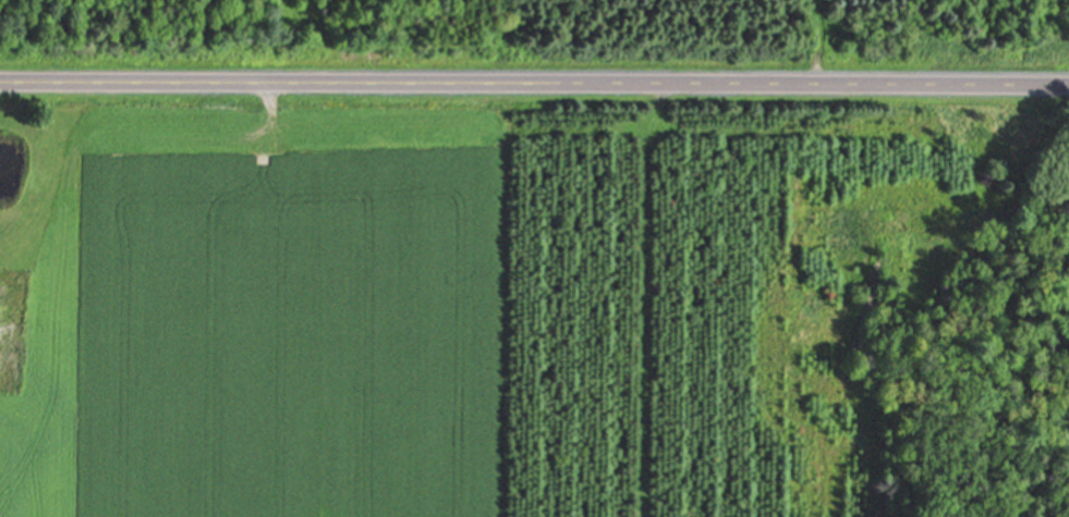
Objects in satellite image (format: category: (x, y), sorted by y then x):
road: (534, 85)

